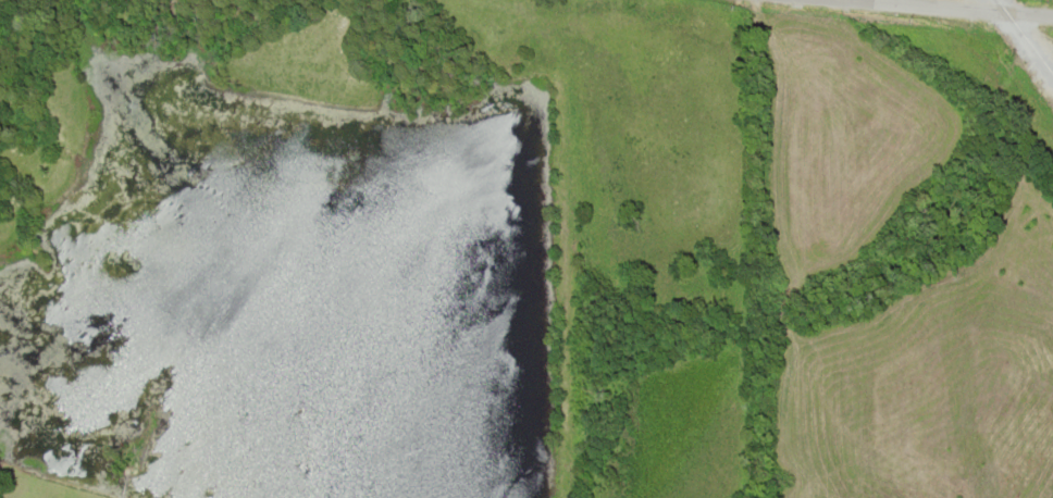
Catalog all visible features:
road: (952, 7)
railway: (1024, 38)

